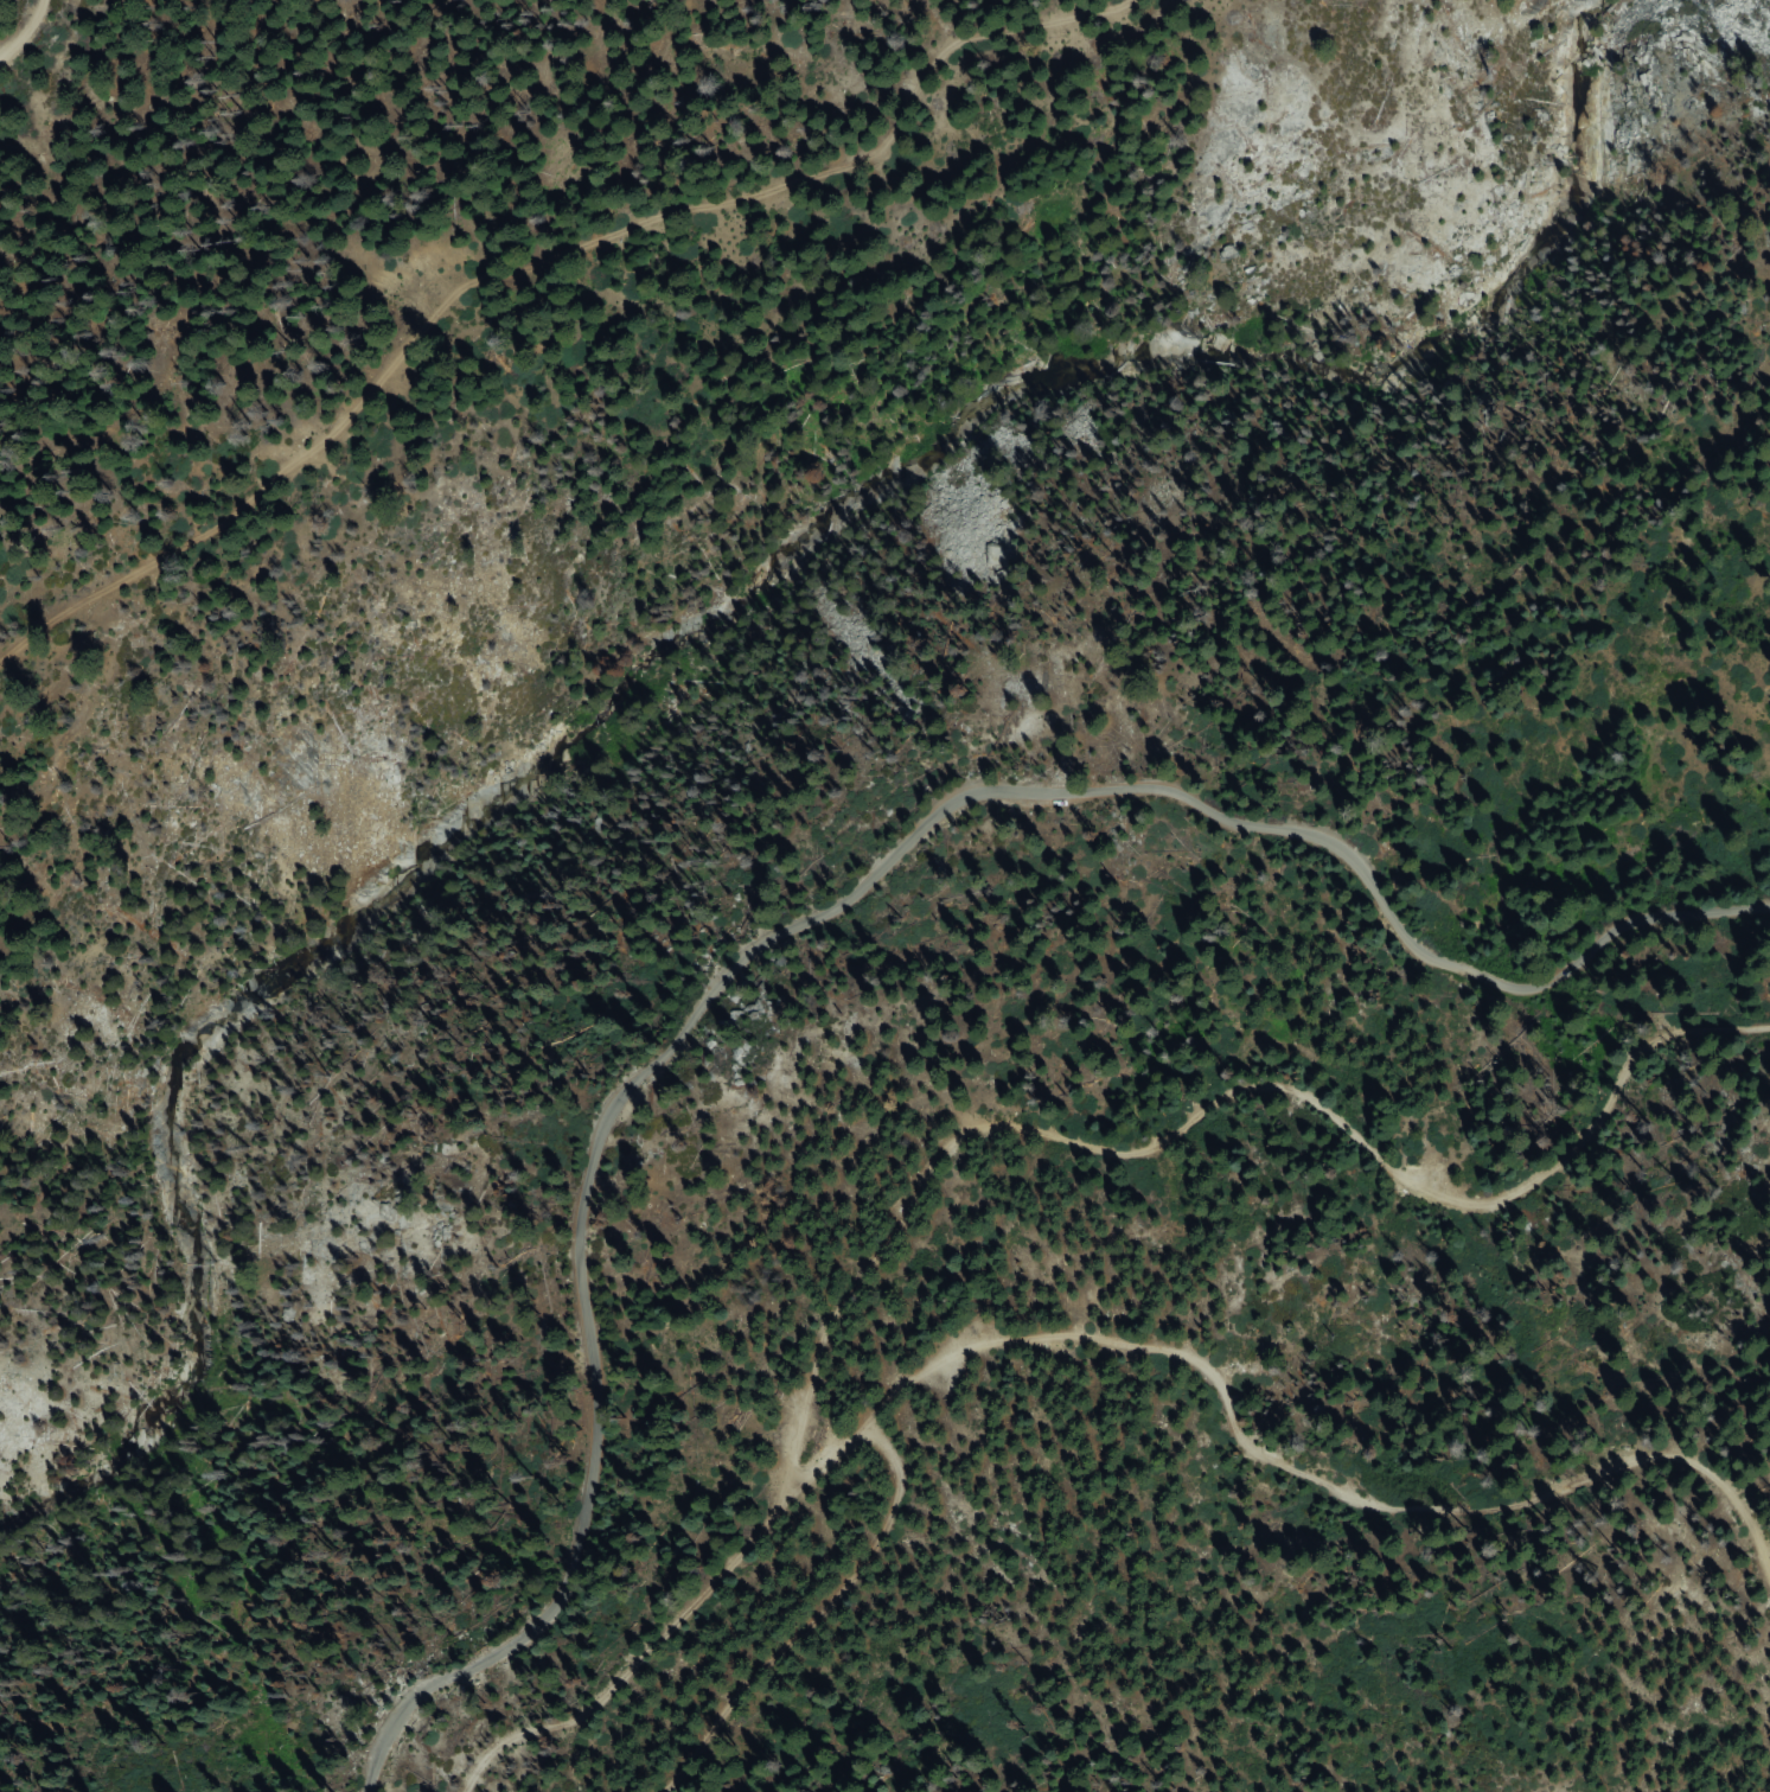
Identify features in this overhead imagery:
road: (20, 31)
road: (556, 267)
road: (818, 914)
road: (1007, 1162)
road: (1104, 1348)

